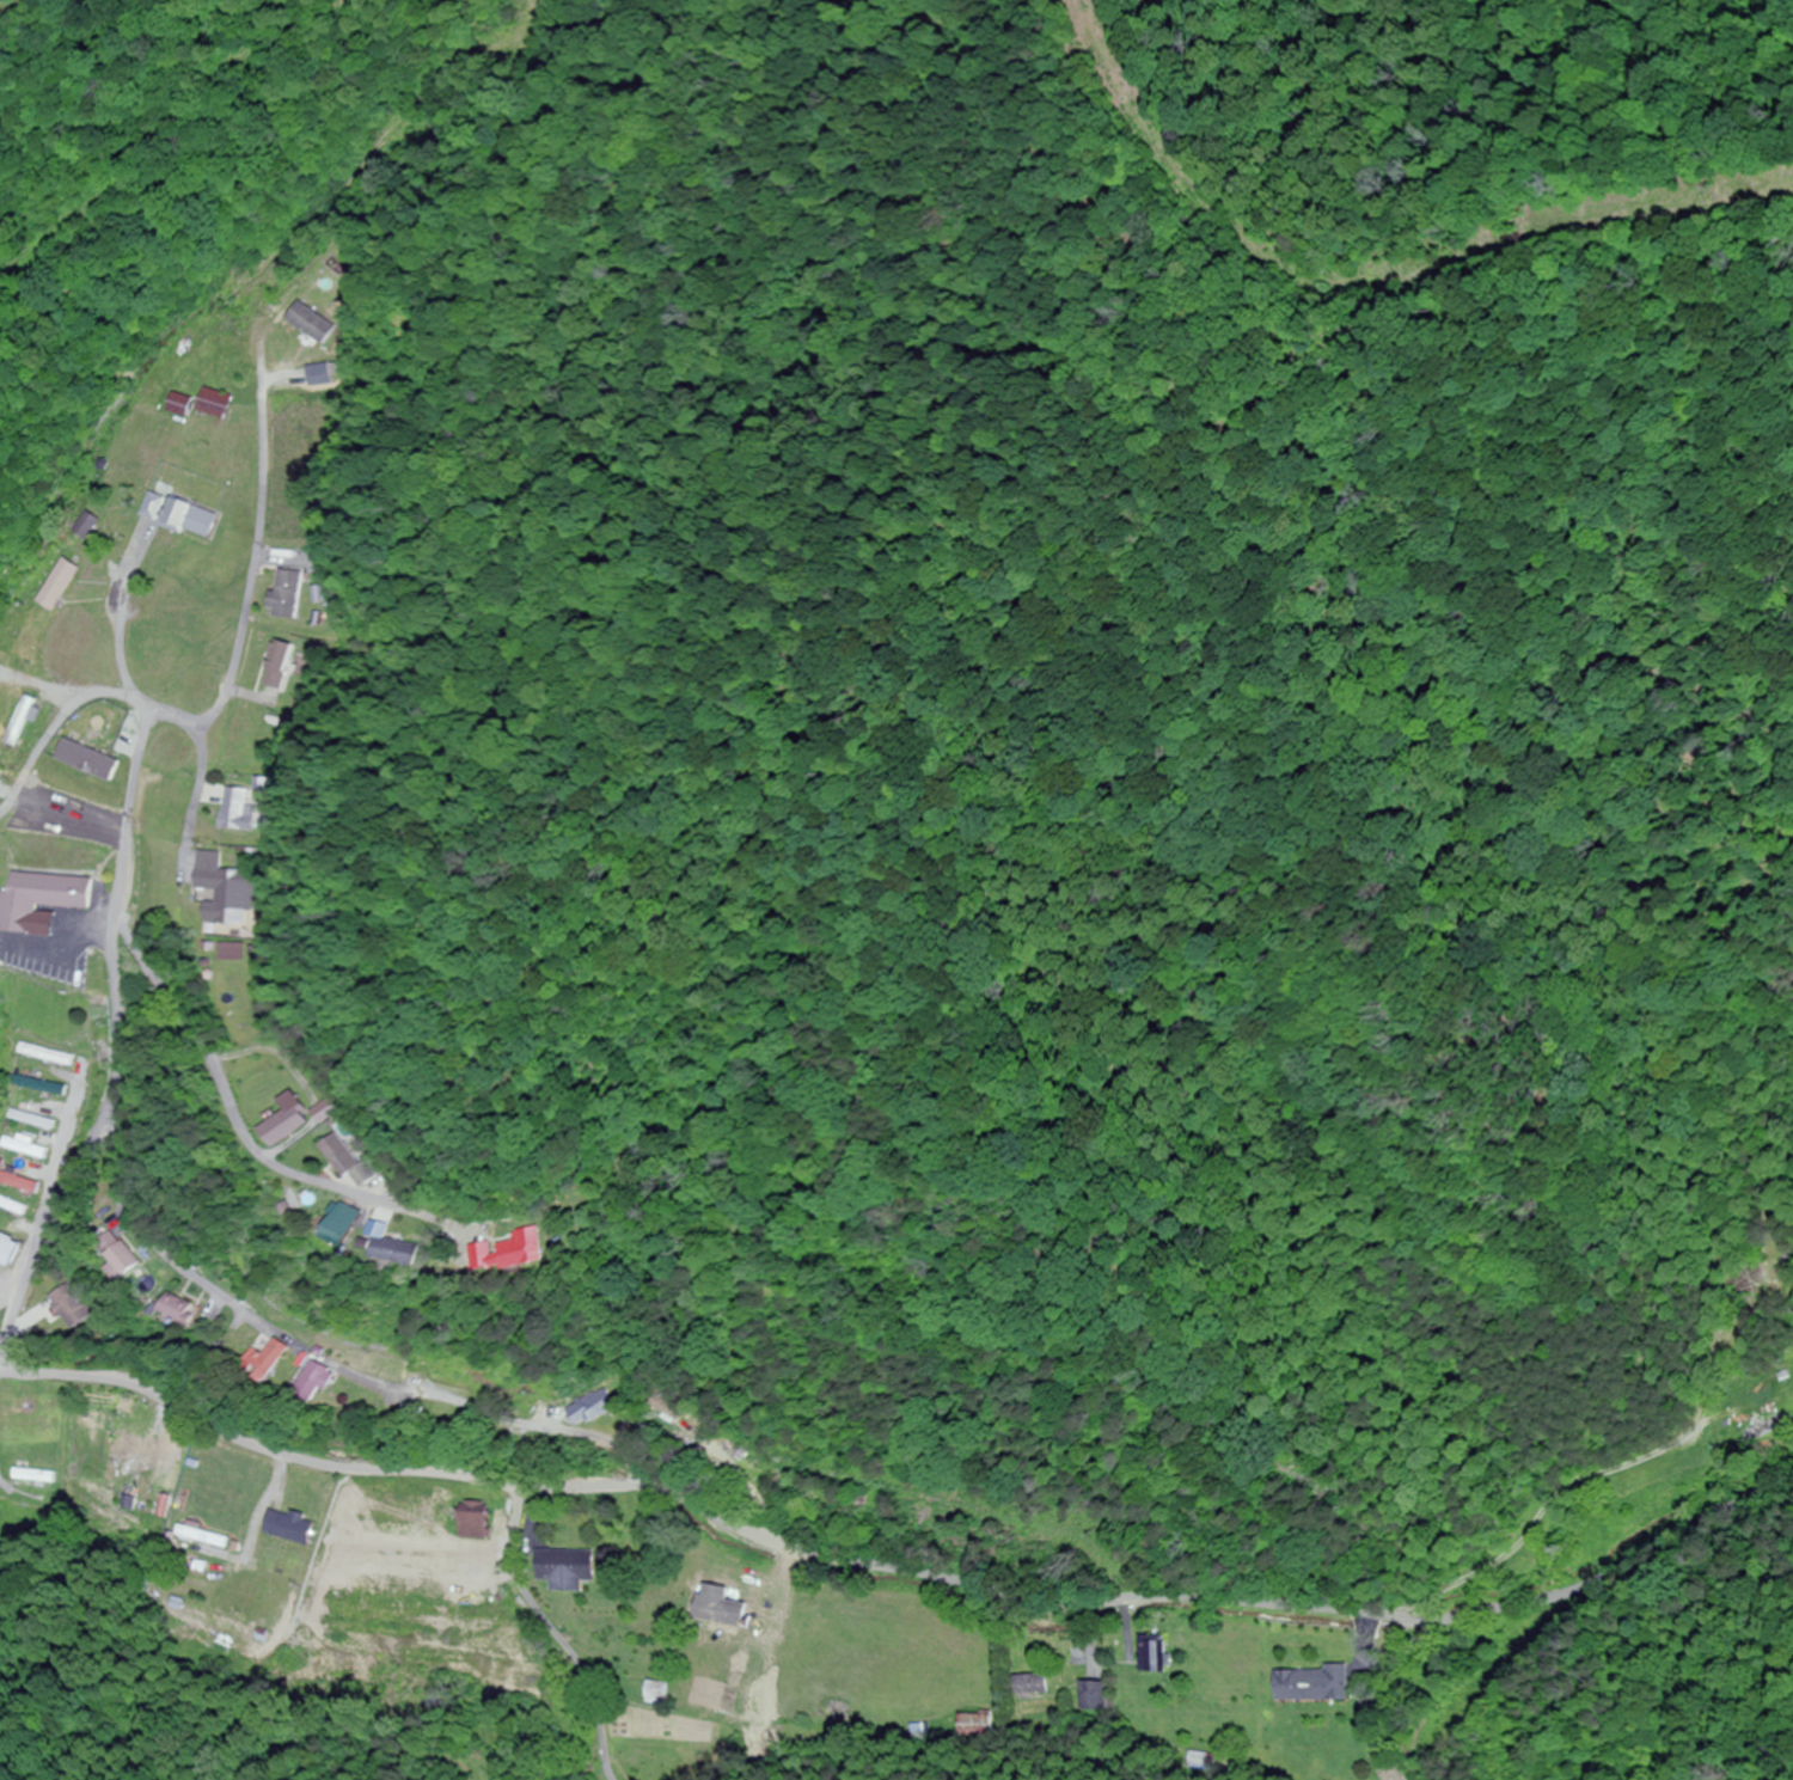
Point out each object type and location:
building: (177, 404)
building: (213, 404)
building: (152, 506)
building: (190, 518)
building: (84, 525)
building: (55, 585)
building: (284, 593)
building: (38, 650)
building: (275, 663)
building: (20, 721)
building: (233, 811)
building: (224, 894)
building: (39, 899)
road: (115, 918)
building: (36, 1085)
building: (314, 1111)
building: (276, 1126)
road: (243, 1140)
building: (22, 1148)
building: (339, 1161)
building: (17, 1183)
building: (11, 1207)
building: (339, 1225)
building: (7, 1250)
building: (394, 1253)
building: (507, 1253)
building: (120, 1256)
building: (71, 1307)
building: (180, 1310)
road: (304, 1338)
building: (268, 1362)
building: (318, 1383)
building: (667, 1407)
building: (592, 1408)
building: (1766, 1427)
building: (140, 1457)
building: (473, 1521)
building: (288, 1527)
building: (200, 1537)
road: (898, 1553)
building: (565, 1570)
building: (1153, 1656)
building: (1314, 1684)
building: (1029, 1686)
building: (654, 1693)
building: (1093, 1696)
building: (972, 1726)
building: (1201, 1761)

